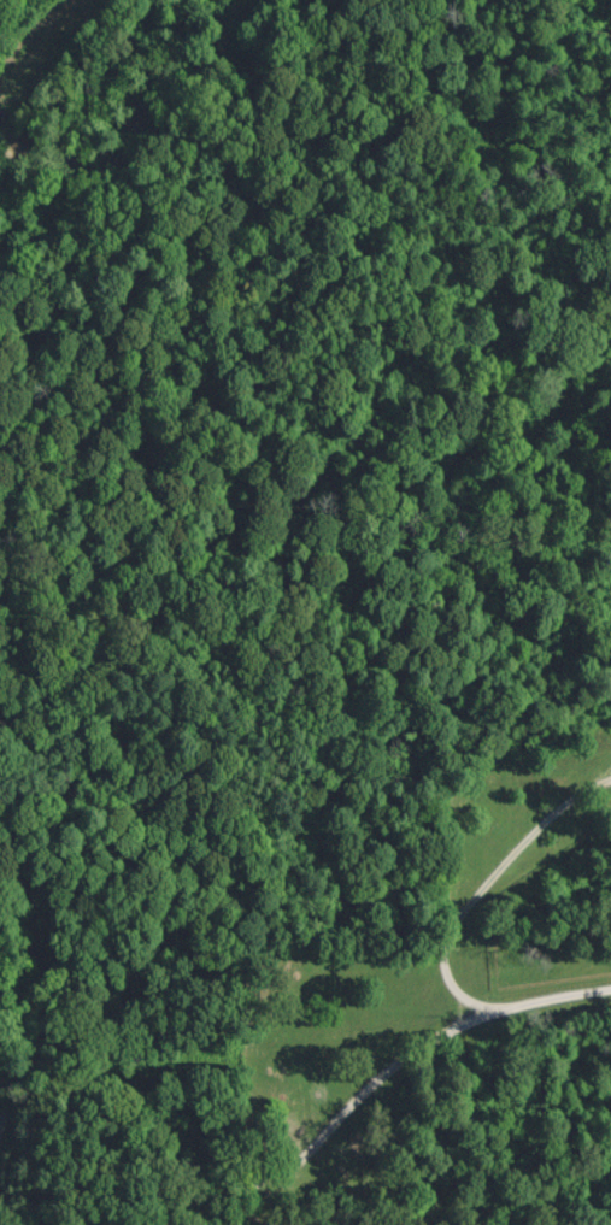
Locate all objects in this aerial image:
road: (482, 890)
road: (384, 1071)
road: (172, 1209)

